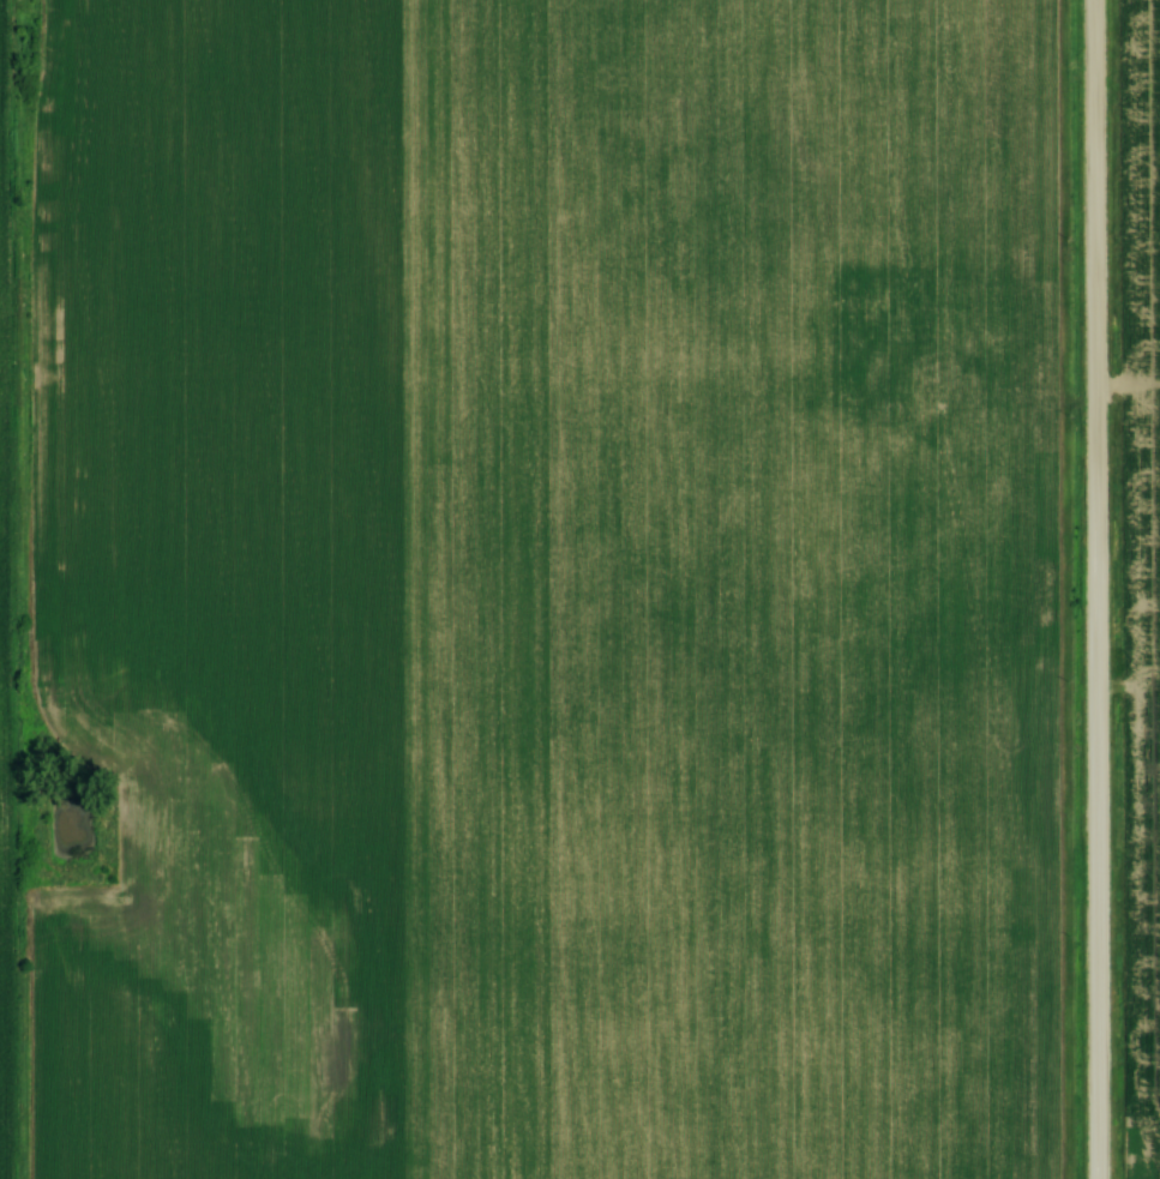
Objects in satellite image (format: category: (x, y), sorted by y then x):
road: (1090, 589)

